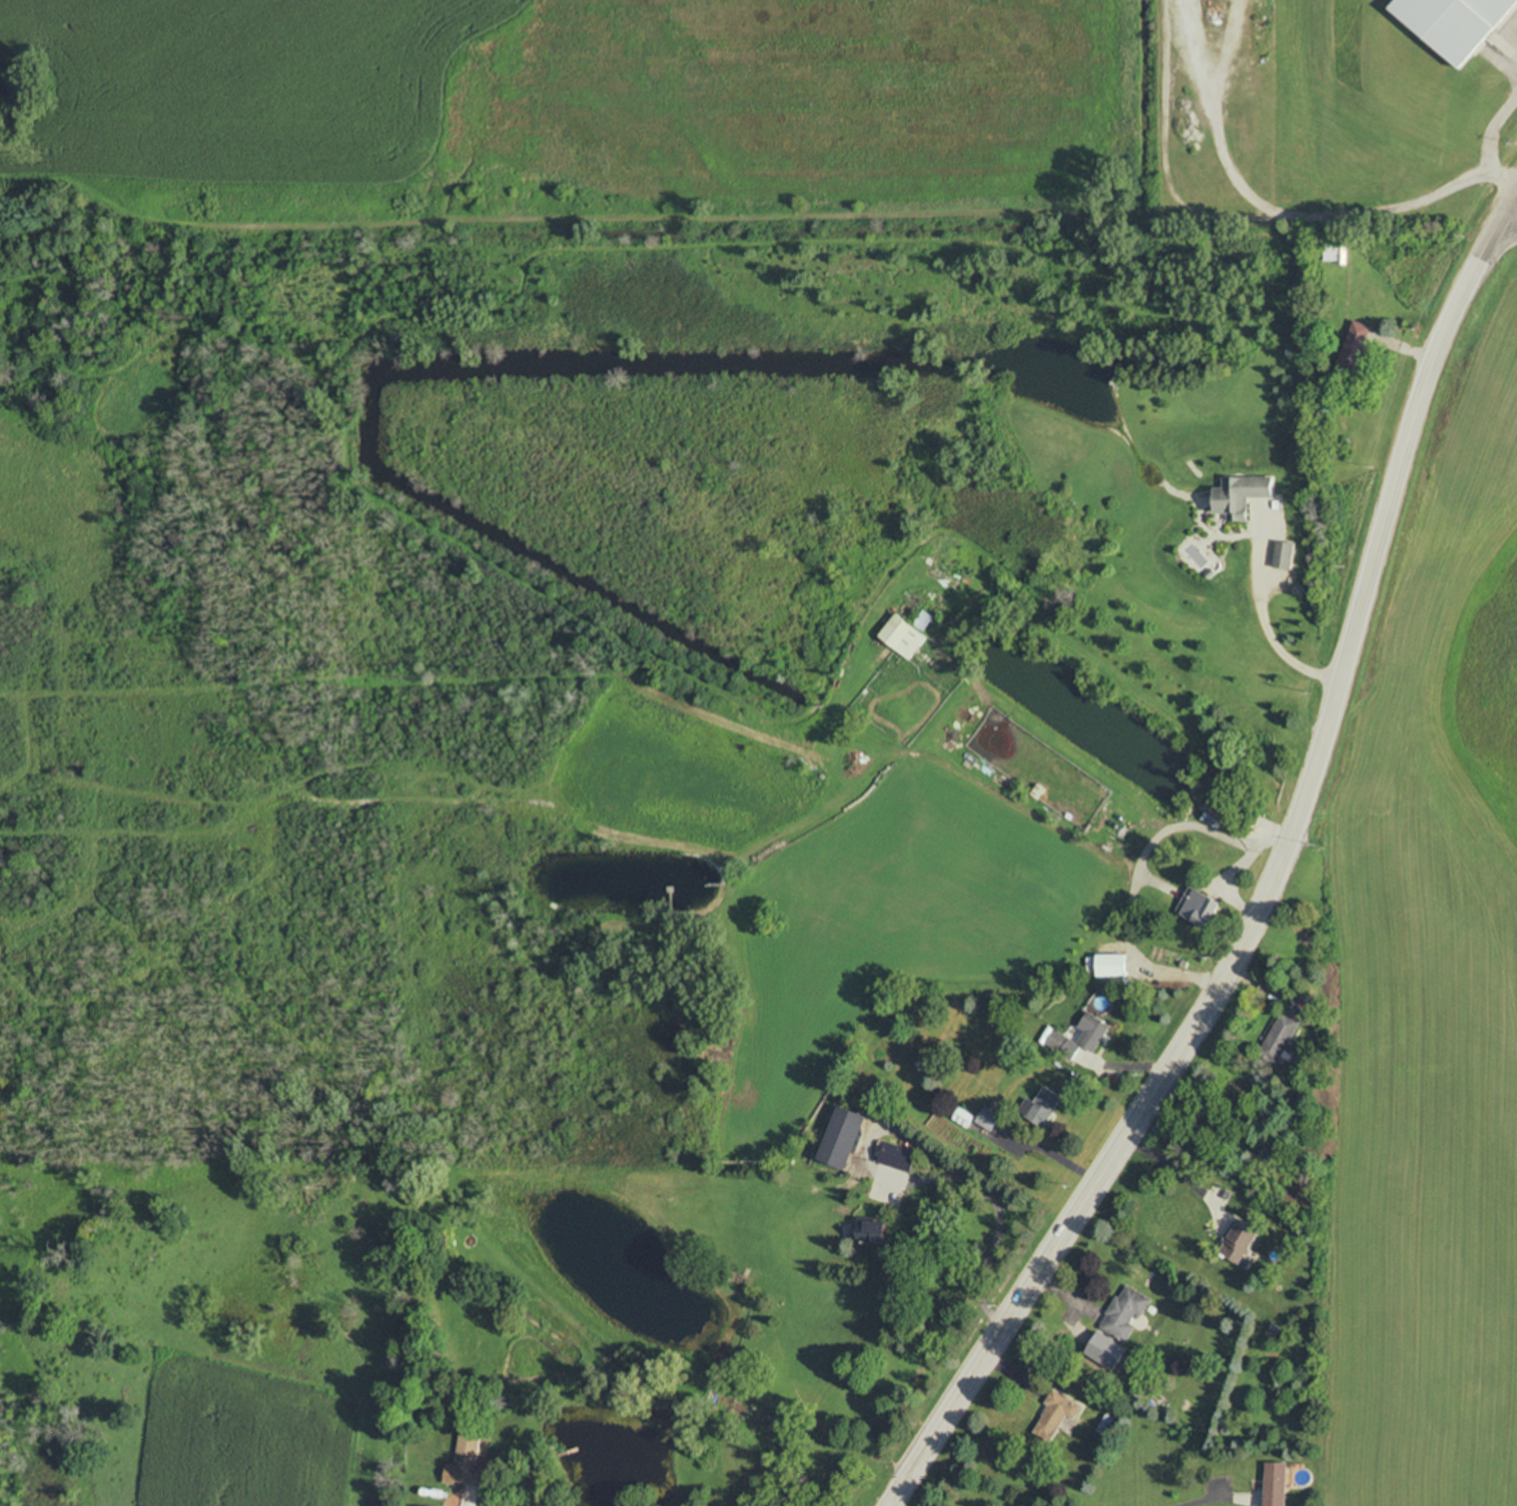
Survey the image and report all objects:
building: (1455, 22)
airport: (1324, 107)
road: (1491, 148)
road: (1511, 206)
road: (1512, 217)
building: (1357, 345)
building: (1241, 495)
building: (1284, 554)
road: (1261, 616)
building: (924, 620)
building: (903, 636)
road: (1141, 865)
road: (1234, 887)
road: (1271, 893)
building: (1202, 908)
building: (1093, 1031)
building: (1279, 1038)
building: (1064, 1045)
building: (1042, 1106)
building: (988, 1118)
building: (843, 1137)
building: (899, 1156)
road: (1178, 1169)
road: (1043, 1204)
building: (872, 1230)
building: (1238, 1242)
building: (1125, 1312)
building: (1105, 1350)
road: (452, 1364)
building: (1055, 1415)
building: (465, 1460)
building: (1275, 1484)
road: (1198, 1501)

